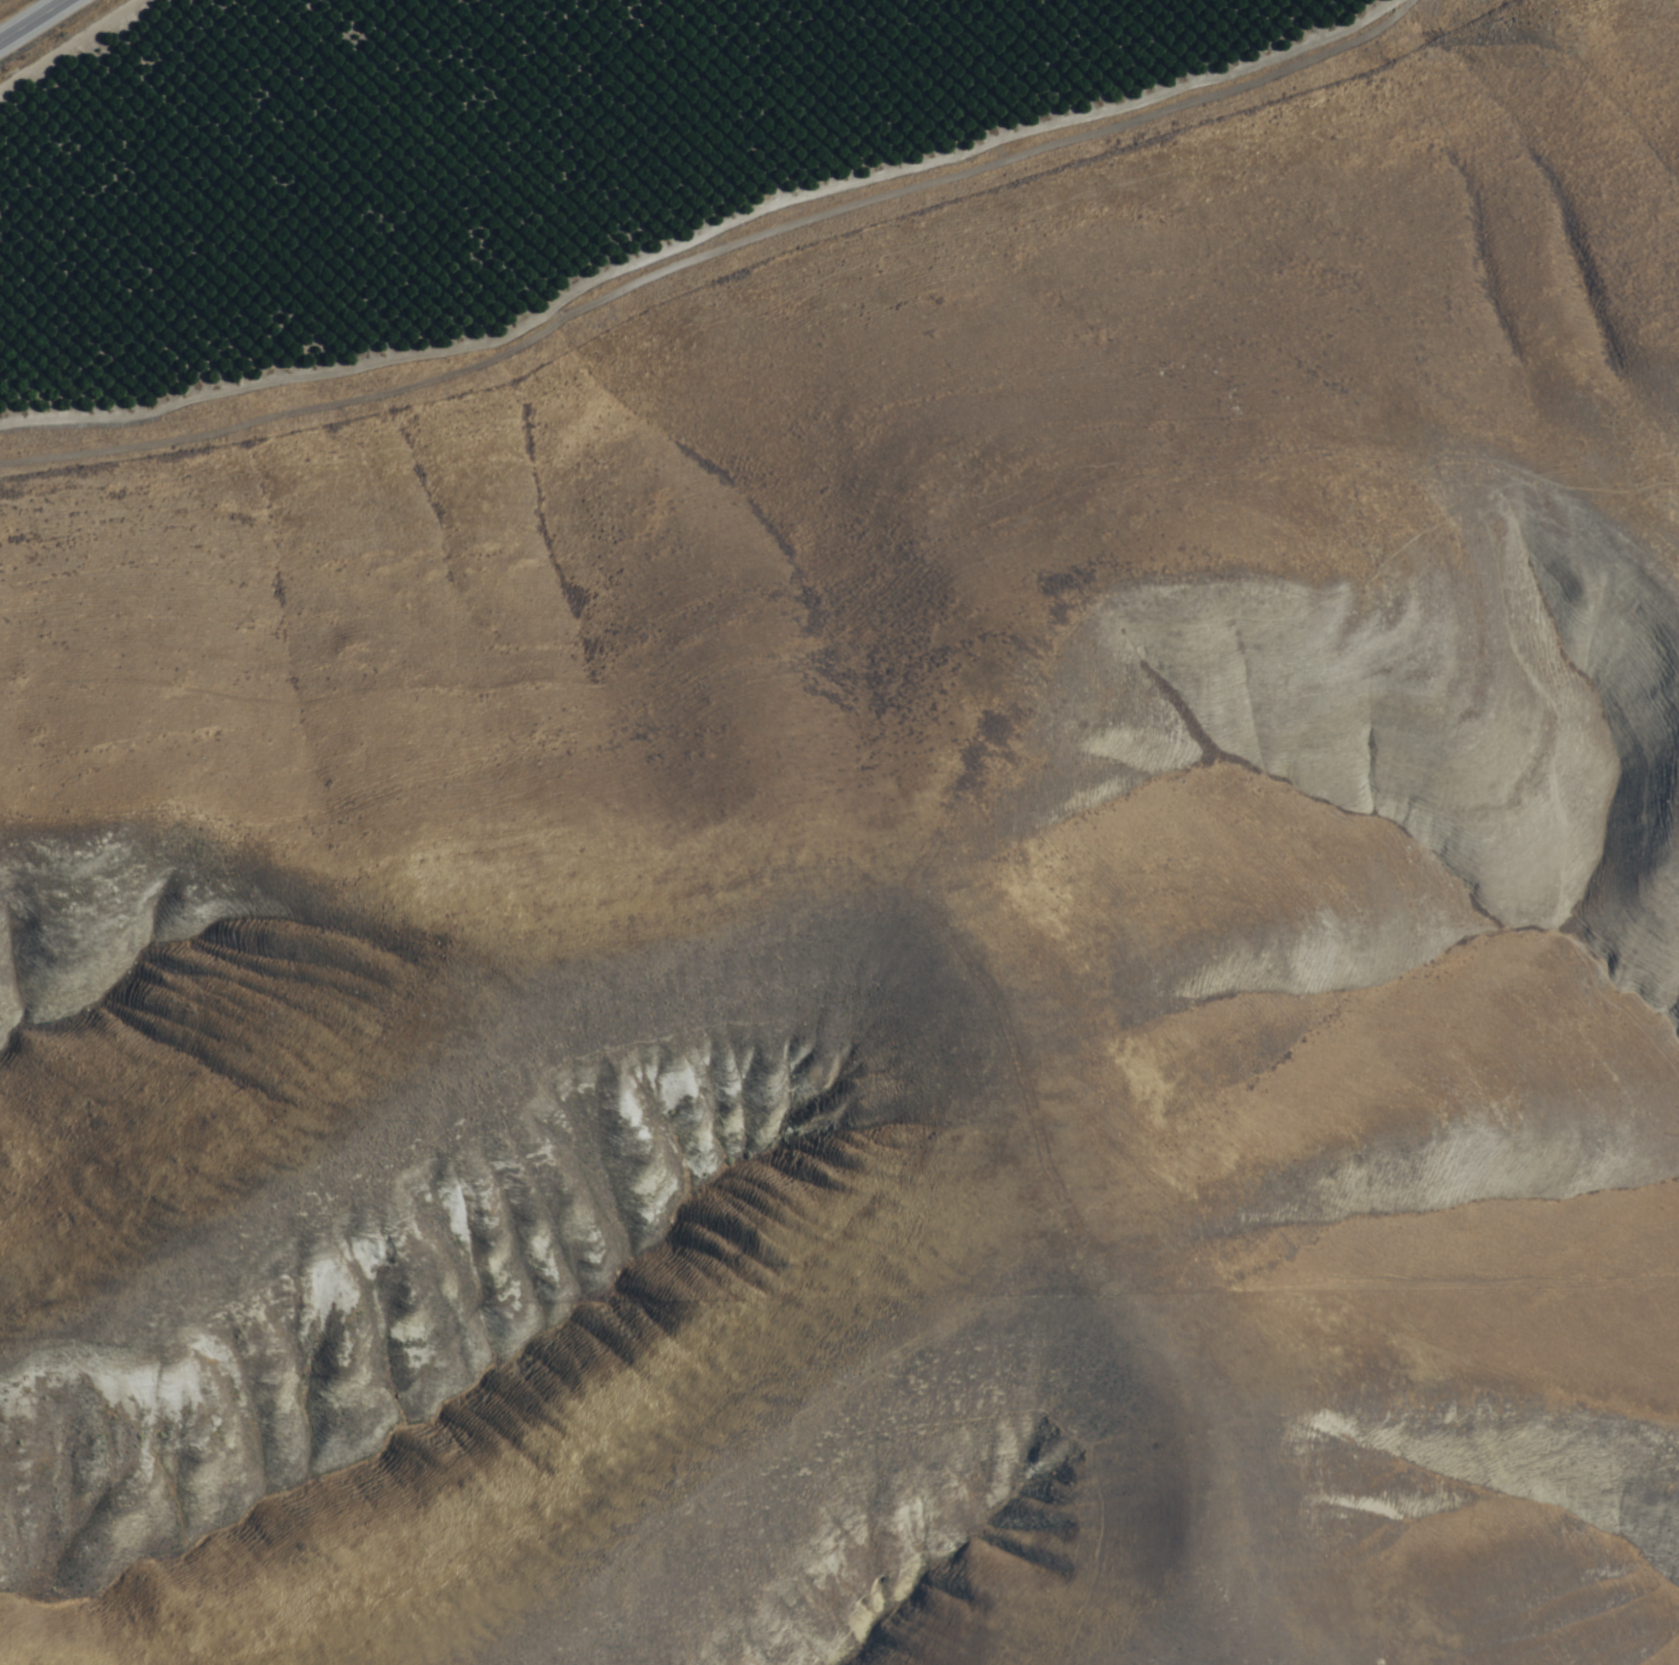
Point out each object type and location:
crop: (5, 3)
road: (28, 19)

